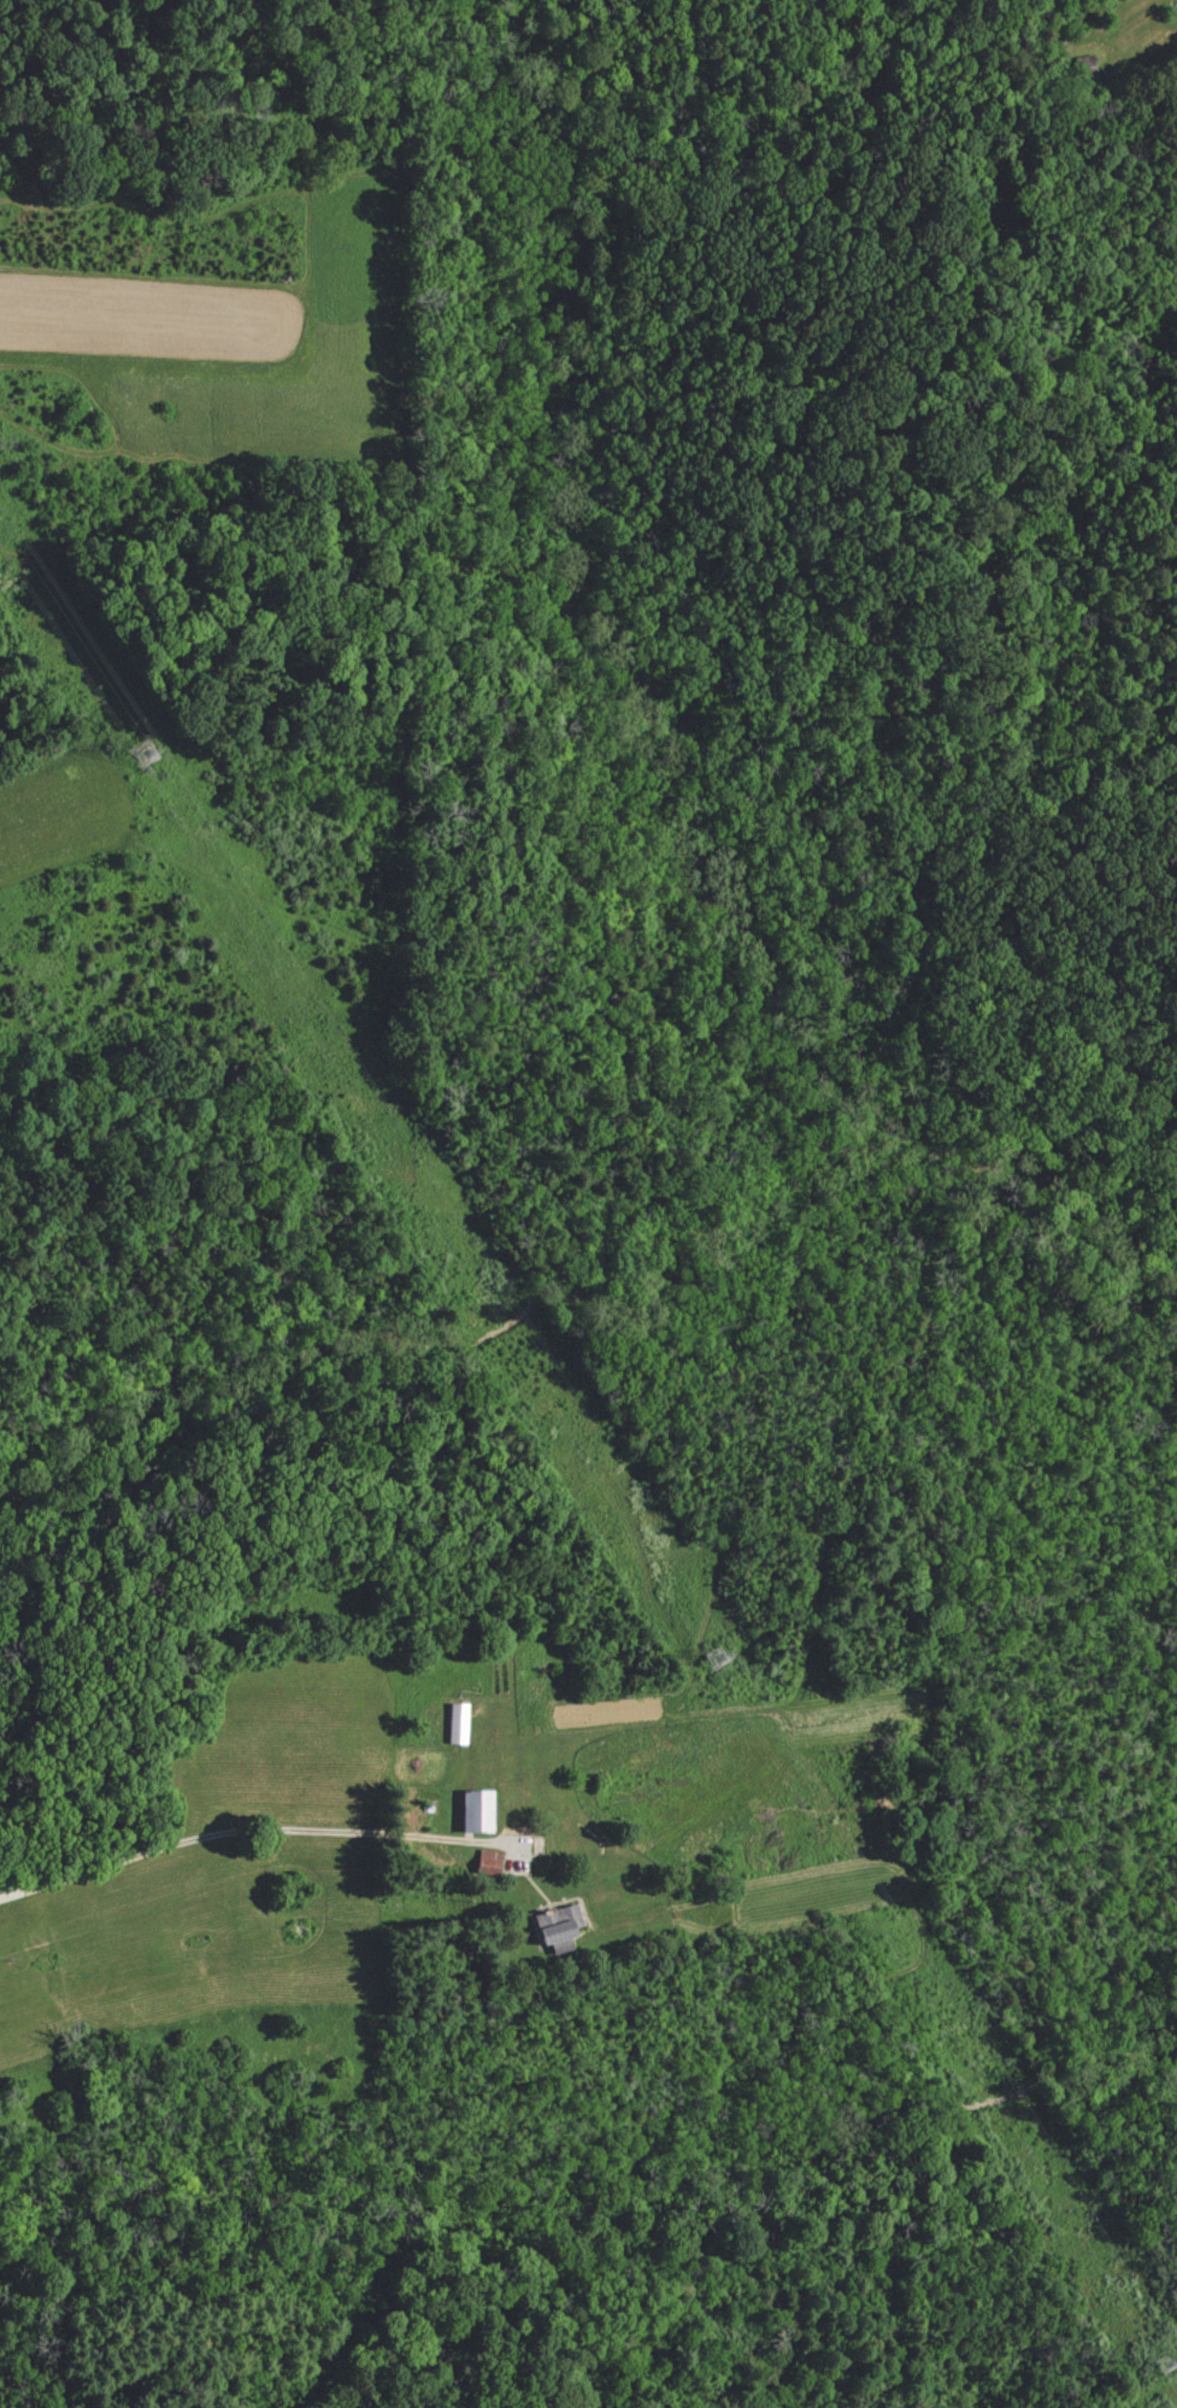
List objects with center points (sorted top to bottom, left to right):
power tower: (146, 752)
power tower: (710, 1656)
building: (454, 1723)
building: (471, 1811)
road: (236, 1823)
building: (485, 1862)
building: (554, 1924)
power tower: (1165, 2374)

